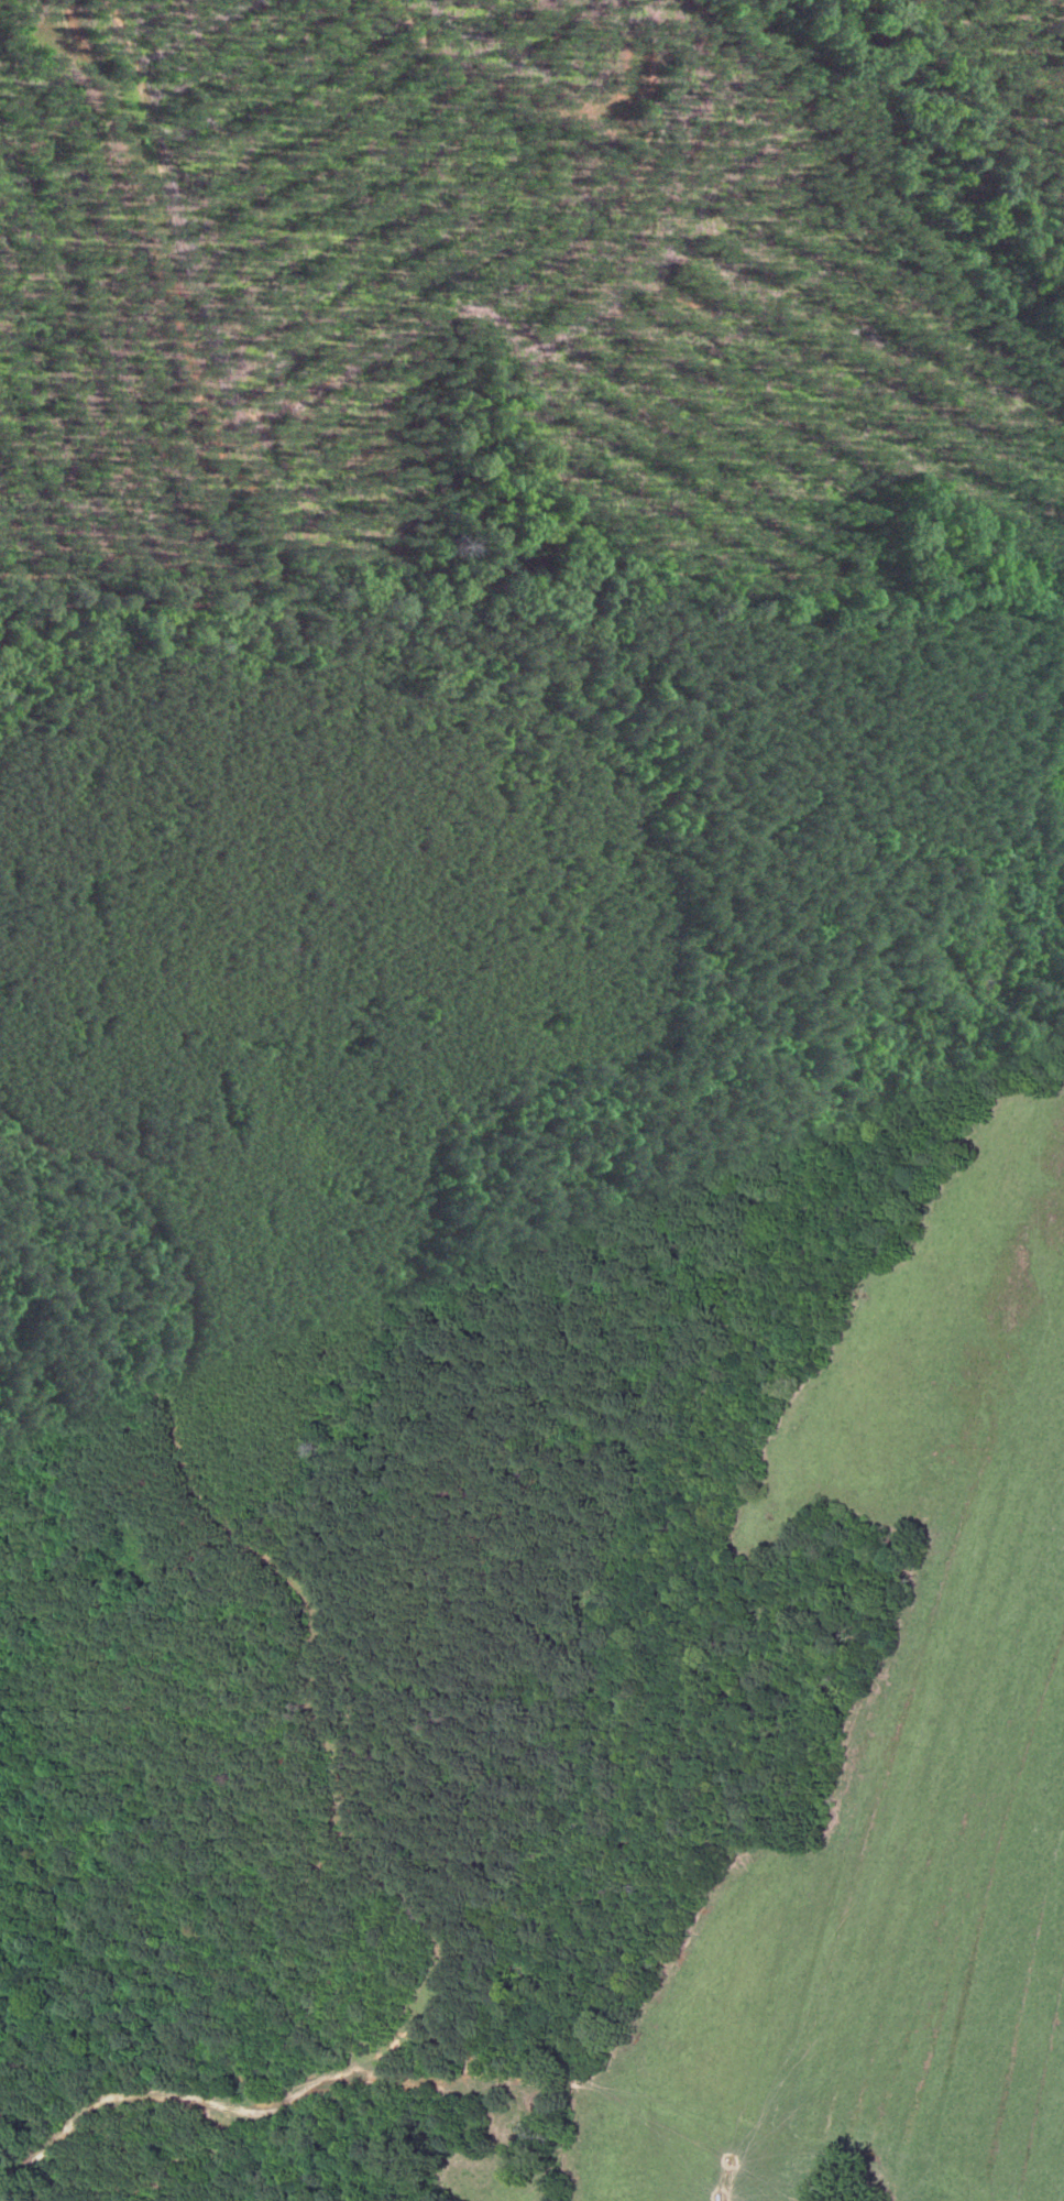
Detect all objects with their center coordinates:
road: (285, 2122)

